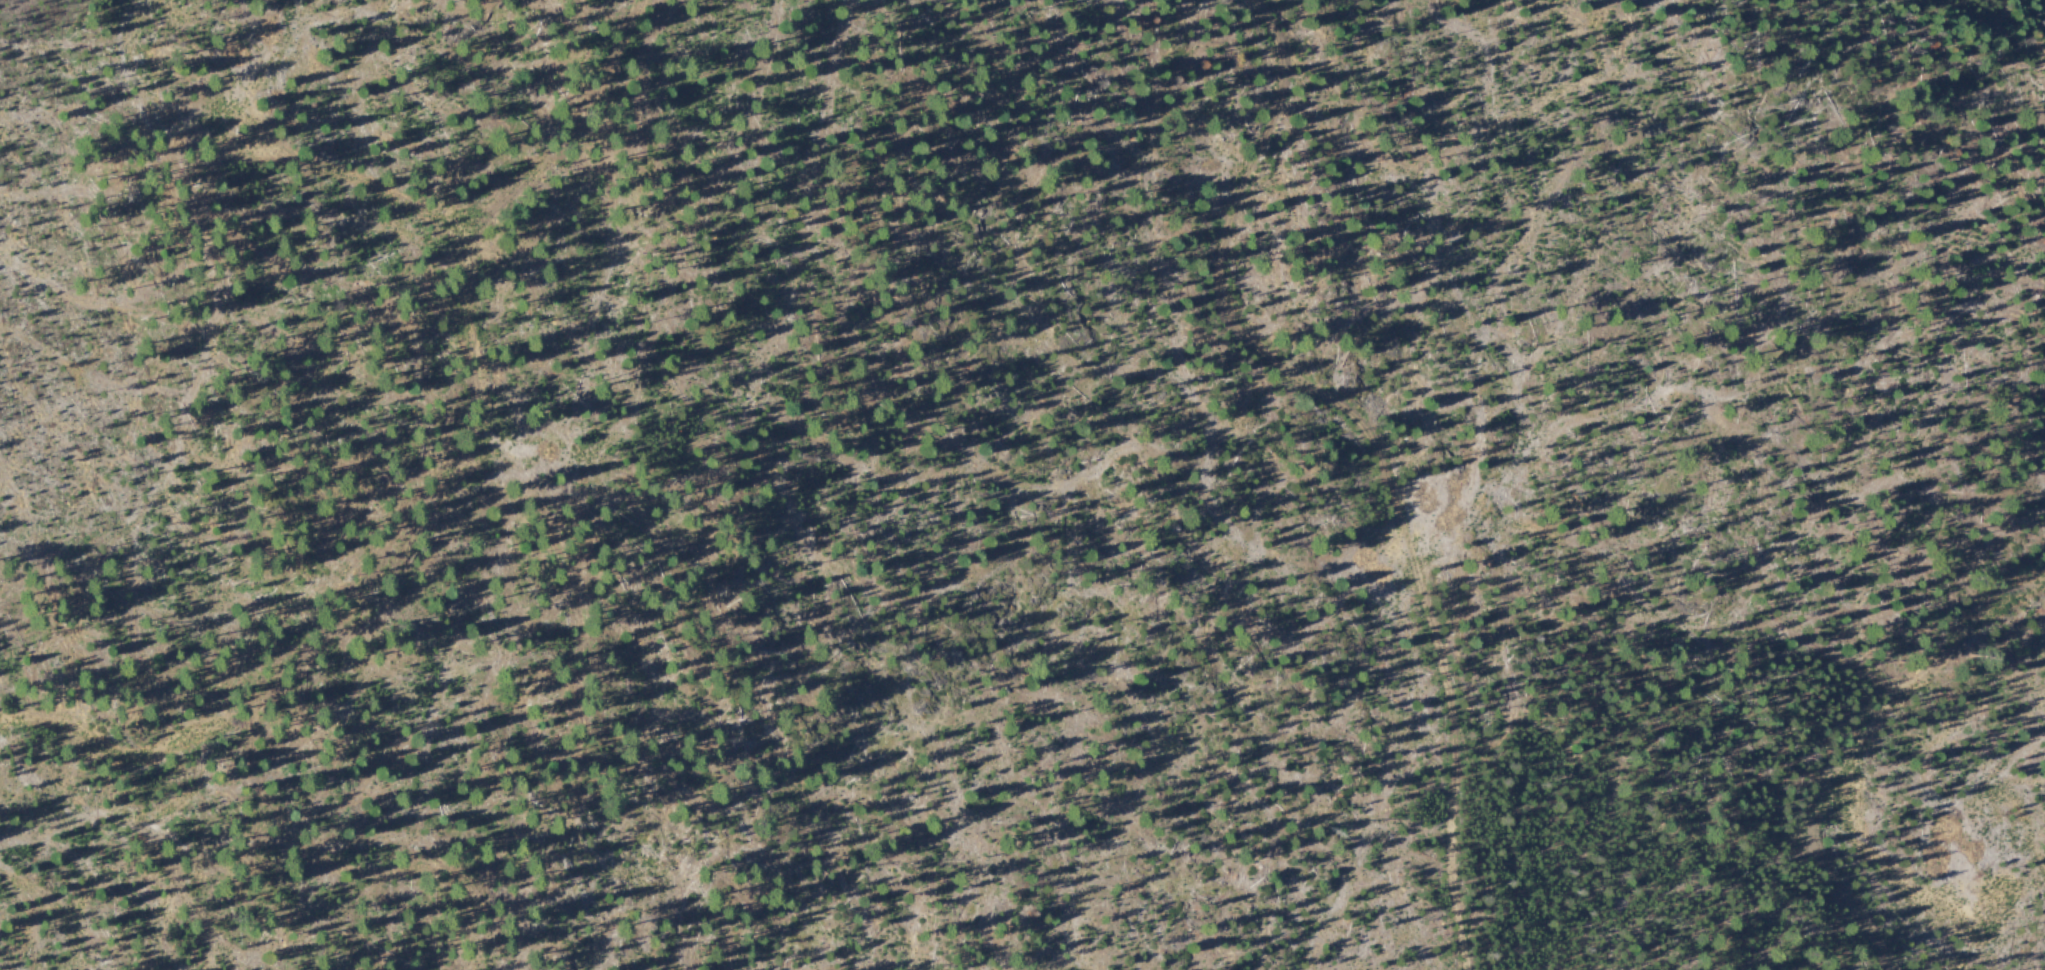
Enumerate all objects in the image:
road: (1369, 452)
road: (1941, 717)

